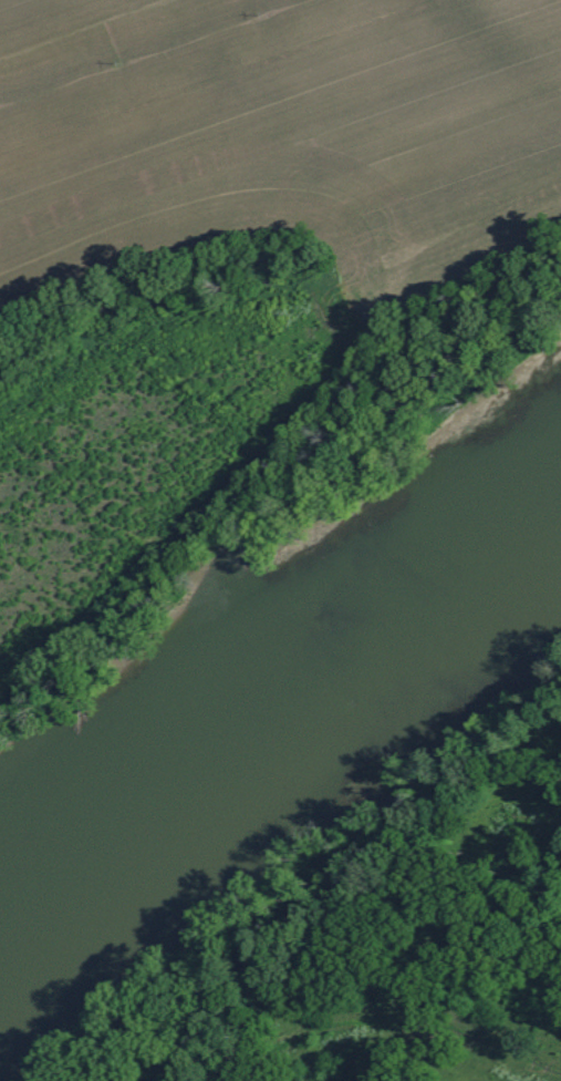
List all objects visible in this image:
river: (268, 692)

